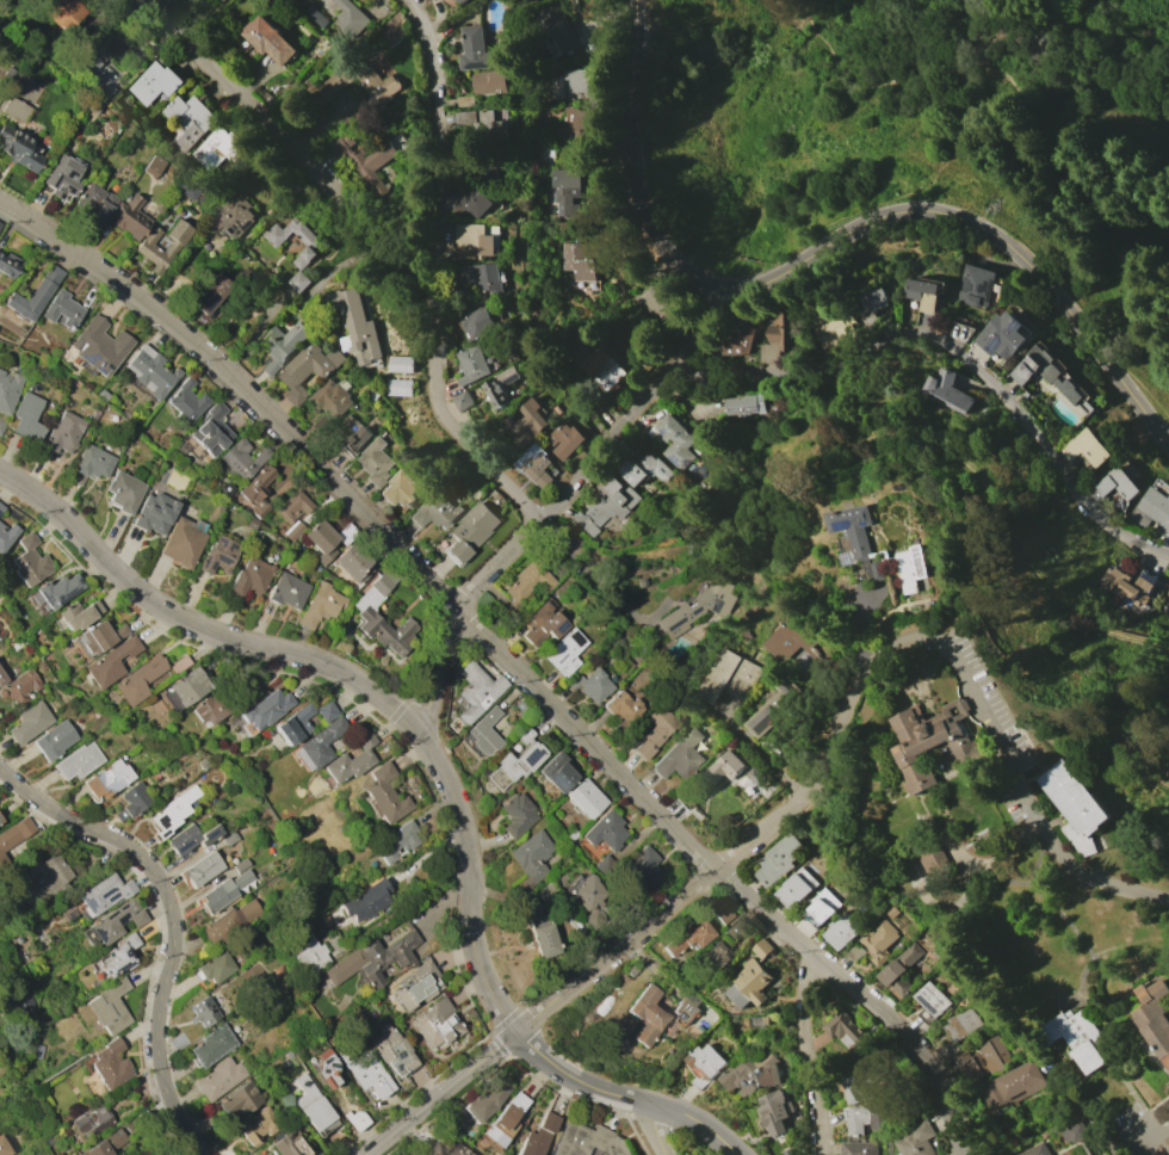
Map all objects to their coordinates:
building: (428, 0)
building: (460, 1)
building: (63, 12)
building: (350, 18)
building: (563, 32)
building: (268, 39)
building: (477, 51)
building: (7, 72)
building: (95, 74)
building: (153, 82)
building: (360, 82)
building: (488, 84)
building: (568, 84)
road: (878, 85)
building: (14, 109)
road: (1089, 109)
building: (188, 119)
building: (484, 123)
building: (575, 124)
building: (233, 147)
road: (446, 147)
building: (18, 149)
road: (295, 152)
building: (370, 157)
building: (153, 165)
road: (635, 173)
road: (1089, 173)
building: (61, 175)
building: (568, 191)
building: (188, 192)
building: (94, 202)
building: (478, 202)
building: (235, 215)
building: (129, 217)
road: (990, 233)
building: (472, 240)
building: (313, 245)
building: (144, 246)
building: (580, 259)
building: (7, 265)
building: (481, 276)
building: (299, 280)
building: (976, 285)
building: (924, 292)
building: (209, 294)
building: (33, 295)
building: (657, 302)
building: (871, 305)
building: (61, 309)
building: (476, 323)
building: (358, 328)
building: (835, 331)
building: (777, 334)
building: (1002, 335)
building: (736, 339)
building: (282, 344)
building: (98, 345)
road: (959, 348)
building: (74, 359)
building: (400, 364)
building: (470, 365)
building: (305, 369)
building: (601, 369)
building: (151, 372)
building: (1051, 373)
building: (400, 387)
building: (499, 388)
building: (7, 391)
building: (948, 393)
building: (101, 395)
building: (330, 396)
building: (186, 400)
building: (462, 400)
building: (744, 404)
building: (26, 416)
building: (528, 422)
building: (1, 424)
building: (320, 424)
road: (460, 427)
building: (210, 430)
building: (62, 432)
building: (352, 432)
building: (564, 439)
road: (874, 439)
building: (680, 444)
building: (1087, 447)
building: (241, 458)
building: (89, 463)
building: (377, 463)
building: (537, 469)
building: (643, 470)
building: (1117, 484)
building: (1162, 487)
building: (224, 489)
building: (256, 489)
building: (398, 489)
building: (123, 490)
road: (563, 501)
building: (291, 505)
building: (605, 505)
building: (1, 507)
building: (1152, 509)
building: (434, 511)
building: (154, 513)
building: (250, 523)
building: (292, 530)
building: (470, 531)
building: (854, 532)
building: (6, 535)
building: (321, 539)
building: (181, 541)
building: (217, 555)
building: (30, 561)
building: (351, 562)
building: (911, 567)
building: (874, 569)
building: (249, 576)
road: (595, 580)
building: (526, 582)
building: (1127, 585)
building: (56, 589)
building: (286, 591)
building: (1168, 595)
building: (320, 605)
building: (697, 606)
building: (365, 612)
building: (78, 613)
building: (542, 624)
building: (100, 636)
building: (791, 636)
road: (898, 643)
building: (564, 651)
road: (508, 660)
building: (110, 661)
building: (178, 663)
parking lot: (971, 665)
building: (13, 668)
building: (1, 678)
building: (728, 678)
building: (138, 679)
building: (590, 685)
building: (186, 686)
building: (19, 687)
building: (476, 691)
building: (209, 708)
building: (266, 708)
building: (623, 708)
building: (777, 708)
building: (324, 711)
building: (27, 722)
building: (293, 724)
building: (503, 725)
building: (654, 731)
building: (266, 733)
building: (484, 733)
building: (524, 736)
building: (52, 740)
building: (933, 741)
building: (320, 743)
building: (679, 755)
building: (351, 760)
building: (76, 761)
road: (437, 765)
building: (514, 765)
building: (723, 766)
building: (556, 772)
building: (754, 774)
building: (106, 779)
building: (384, 795)
road: (1027, 796)
building: (584, 798)
building: (131, 801)
building: (1076, 805)
building: (173, 810)
building: (515, 815)
building: (0, 821)
building: (605, 830)
building: (14, 832)
building: (191, 838)
building: (230, 838)
building: (396, 841)
building: (1, 859)
building: (778, 859)
building: (530, 860)
building: (934, 860)
building: (643, 864)
building: (240, 865)
building: (604, 866)
building: (200, 869)
road: (719, 870)
building: (50, 875)
building: (796, 887)
building: (223, 891)
building: (105, 892)
building: (586, 892)
building: (546, 896)
building: (364, 901)
building: (822, 907)
building: (722, 913)
building: (593, 919)
building: (116, 921)
building: (229, 921)
road: (171, 925)
building: (732, 928)
building: (842, 929)
building: (689, 935)
building: (543, 940)
building: (879, 940)
building: (761, 947)
building: (855, 952)
building: (719, 953)
building: (117, 955)
building: (308, 955)
building: (372, 959)
building: (214, 966)
building: (901, 969)
building: (630, 970)
building: (749, 984)
building: (416, 986)
building: (929, 1001)
building: (109, 1006)
building: (686, 1008)
building: (203, 1012)
building: (644, 1014)
building: (1153, 1017)
building: (757, 1021)
building: (435, 1024)
building: (961, 1024)
building: (845, 1030)
building: (1077, 1037)
building: (177, 1040)
building: (210, 1045)
building: (389, 1049)
building: (35, 1051)
road: (811, 1057)
building: (984, 1060)
building: (704, 1062)
building: (109, 1064)
building: (321, 1067)
building: (361, 1067)
building: (751, 1073)
building: (218, 1077)
building: (861, 1083)
building: (1013, 1087)
road: (439, 1093)
building: (485, 1100)
building: (239, 1101)
building: (310, 1105)
building: (774, 1111)
building: (865, 1118)
building: (92, 1119)
building: (354, 1119)
building: (503, 1120)
building: (131, 1124)
building: (258, 1125)
road: (655, 1130)
building: (1075, 1131)
road: (1150, 1134)
building: (537, 1136)
road: (1095, 1137)
building: (916, 1139)
building: (586, 1141)
building: (6, 1144)
building: (105, 1144)
building: (287, 1144)
building: (440, 1147)
building: (858, 1148)
building: (1037, 1150)
road: (1134, 1150)
building: (229, 1151)
building: (786, 1151)
building: (465, 1153)
building: (1096, 1154)

